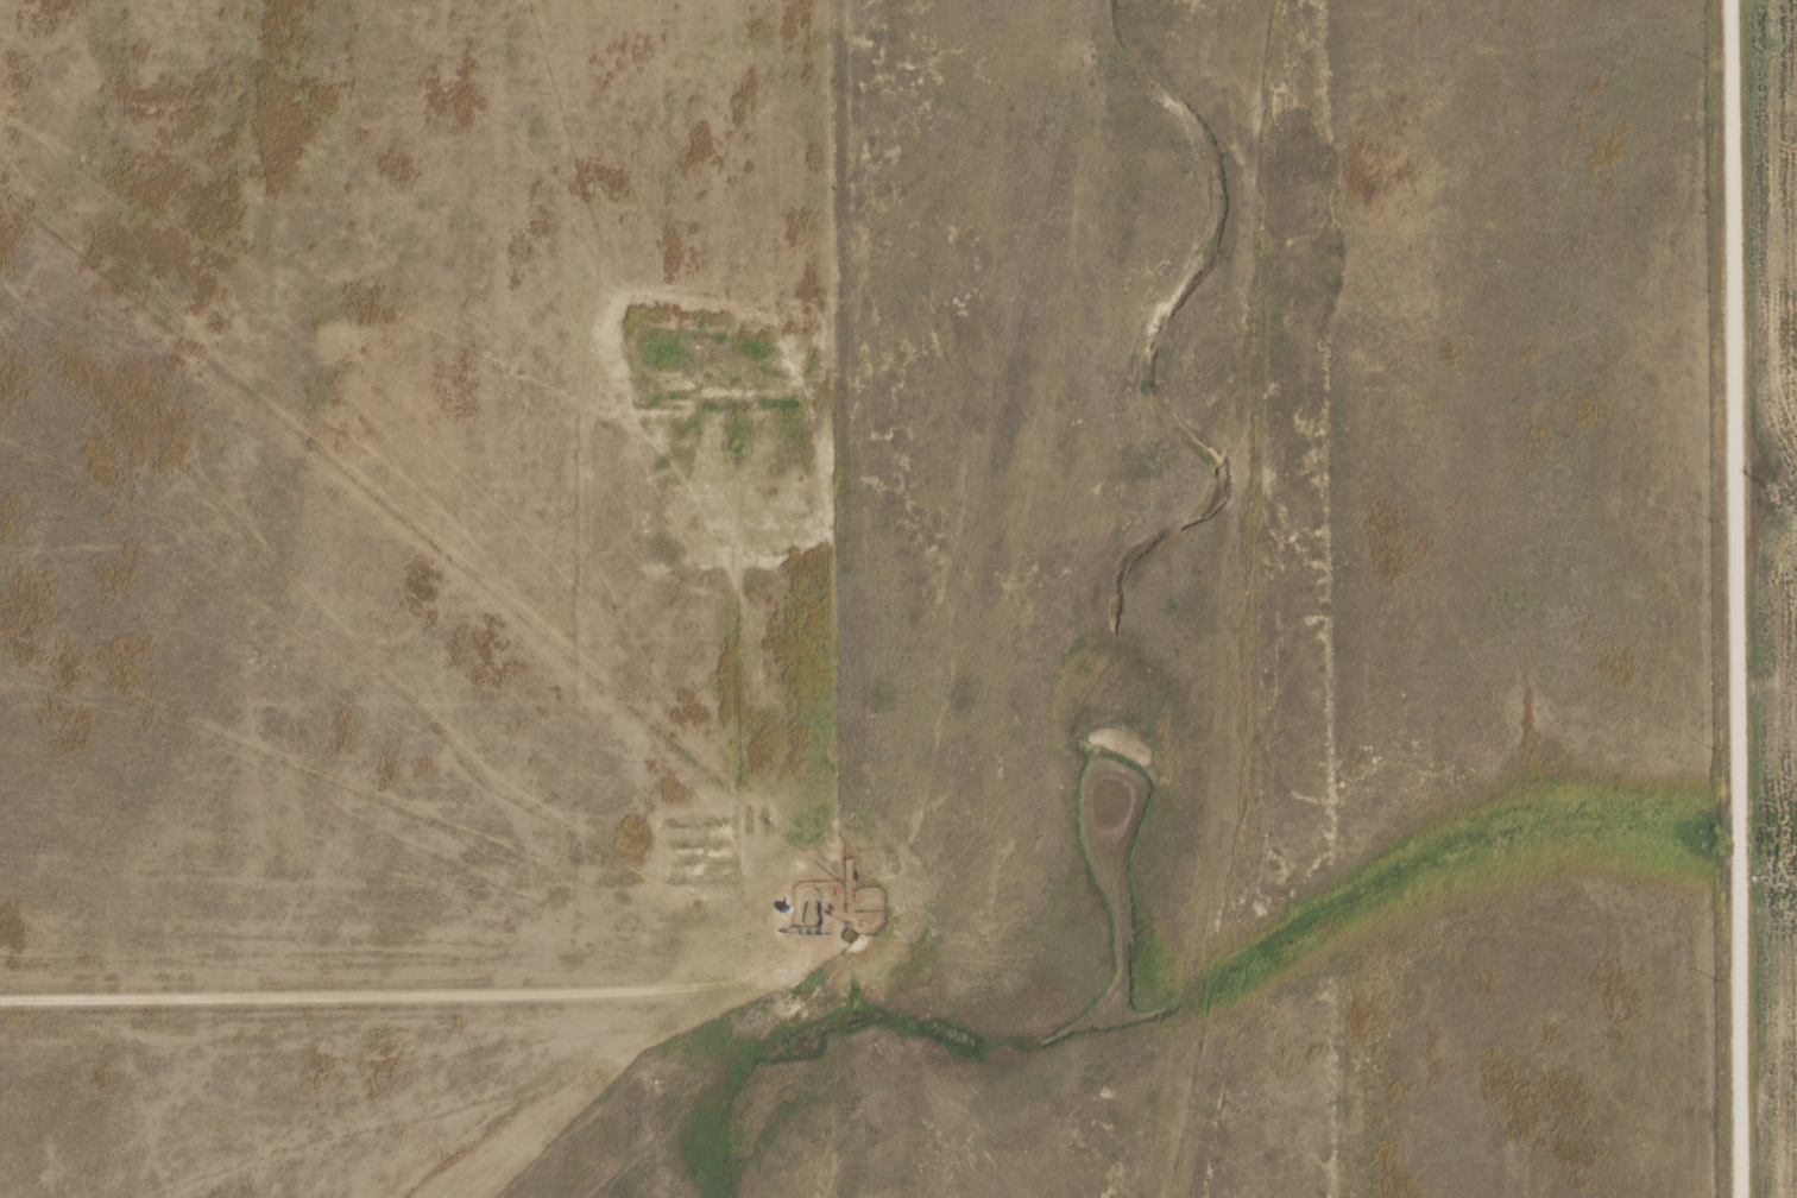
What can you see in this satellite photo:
road: (1741, 599)
road: (1770, 648)

